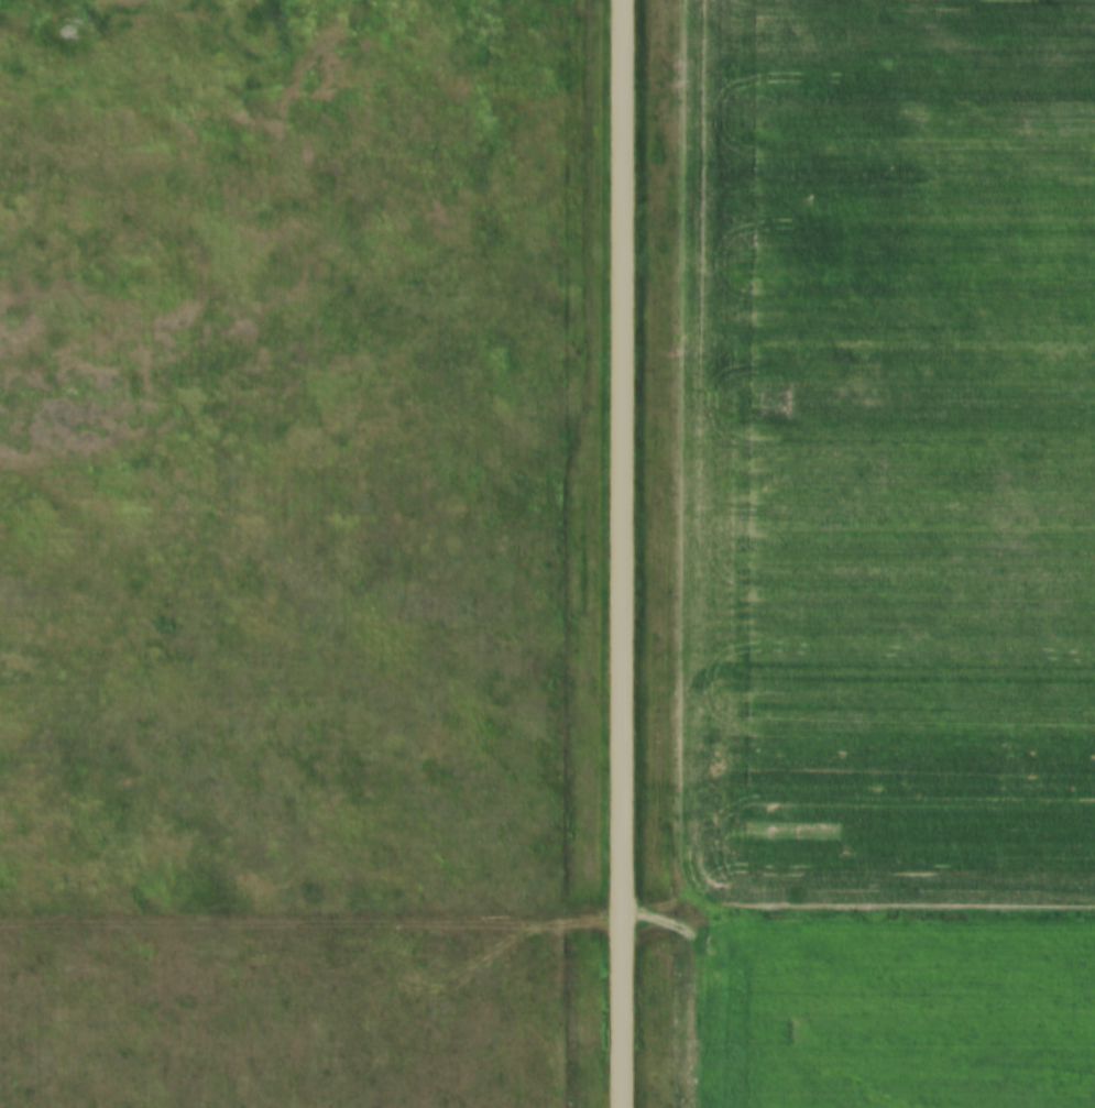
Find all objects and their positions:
road: (631, 553)
road: (315, 919)

